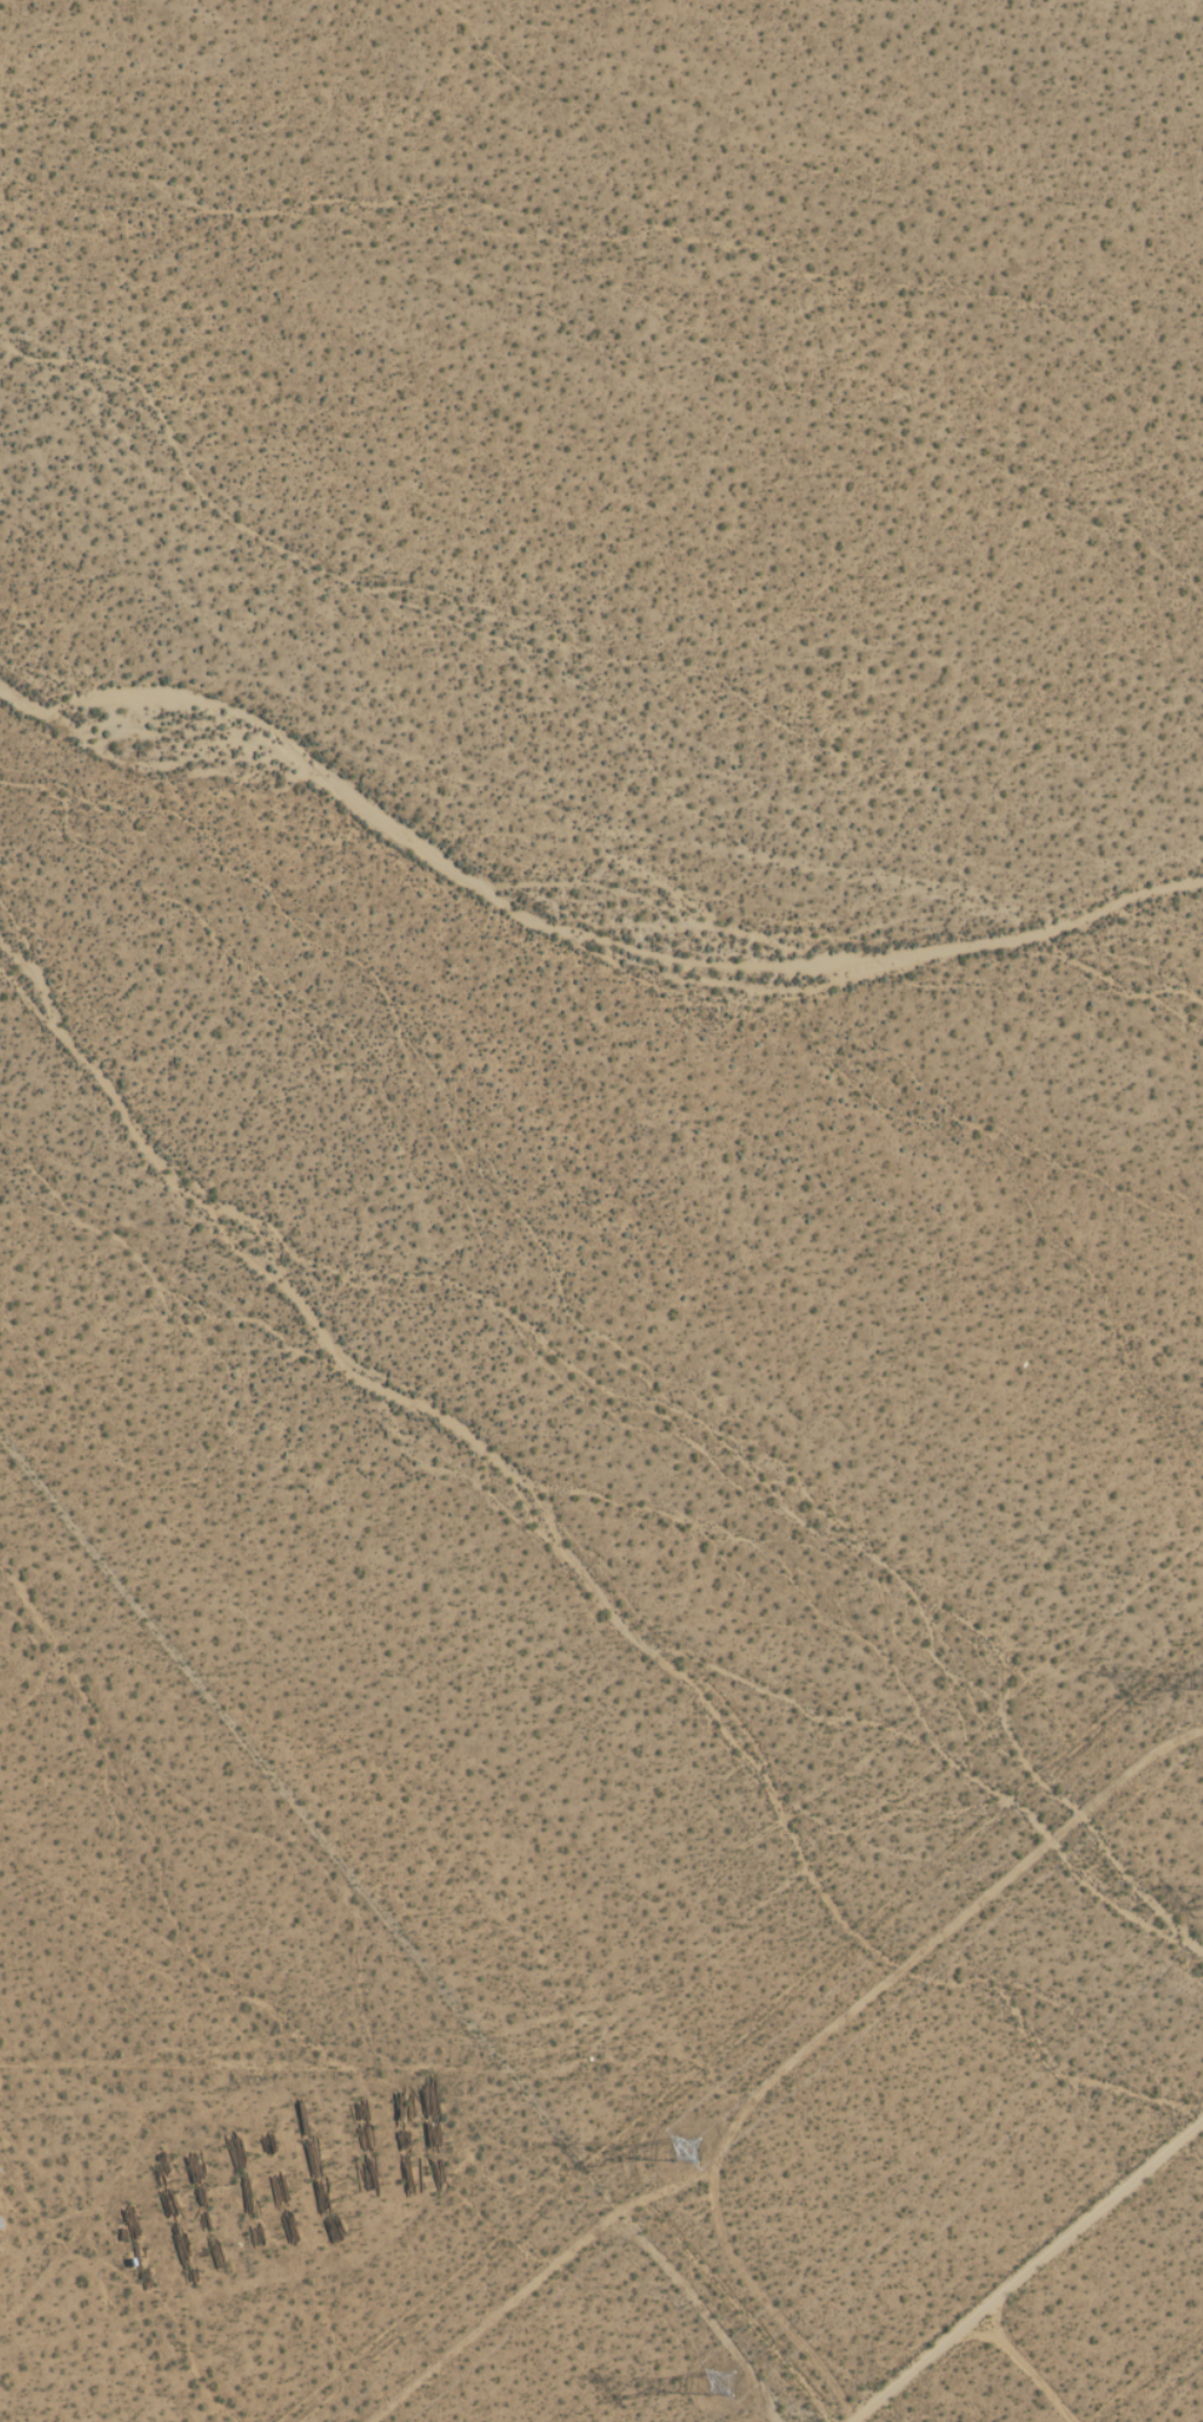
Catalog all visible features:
power tower: (689, 2149)
road: (1031, 2274)
power tower: (729, 2377)

